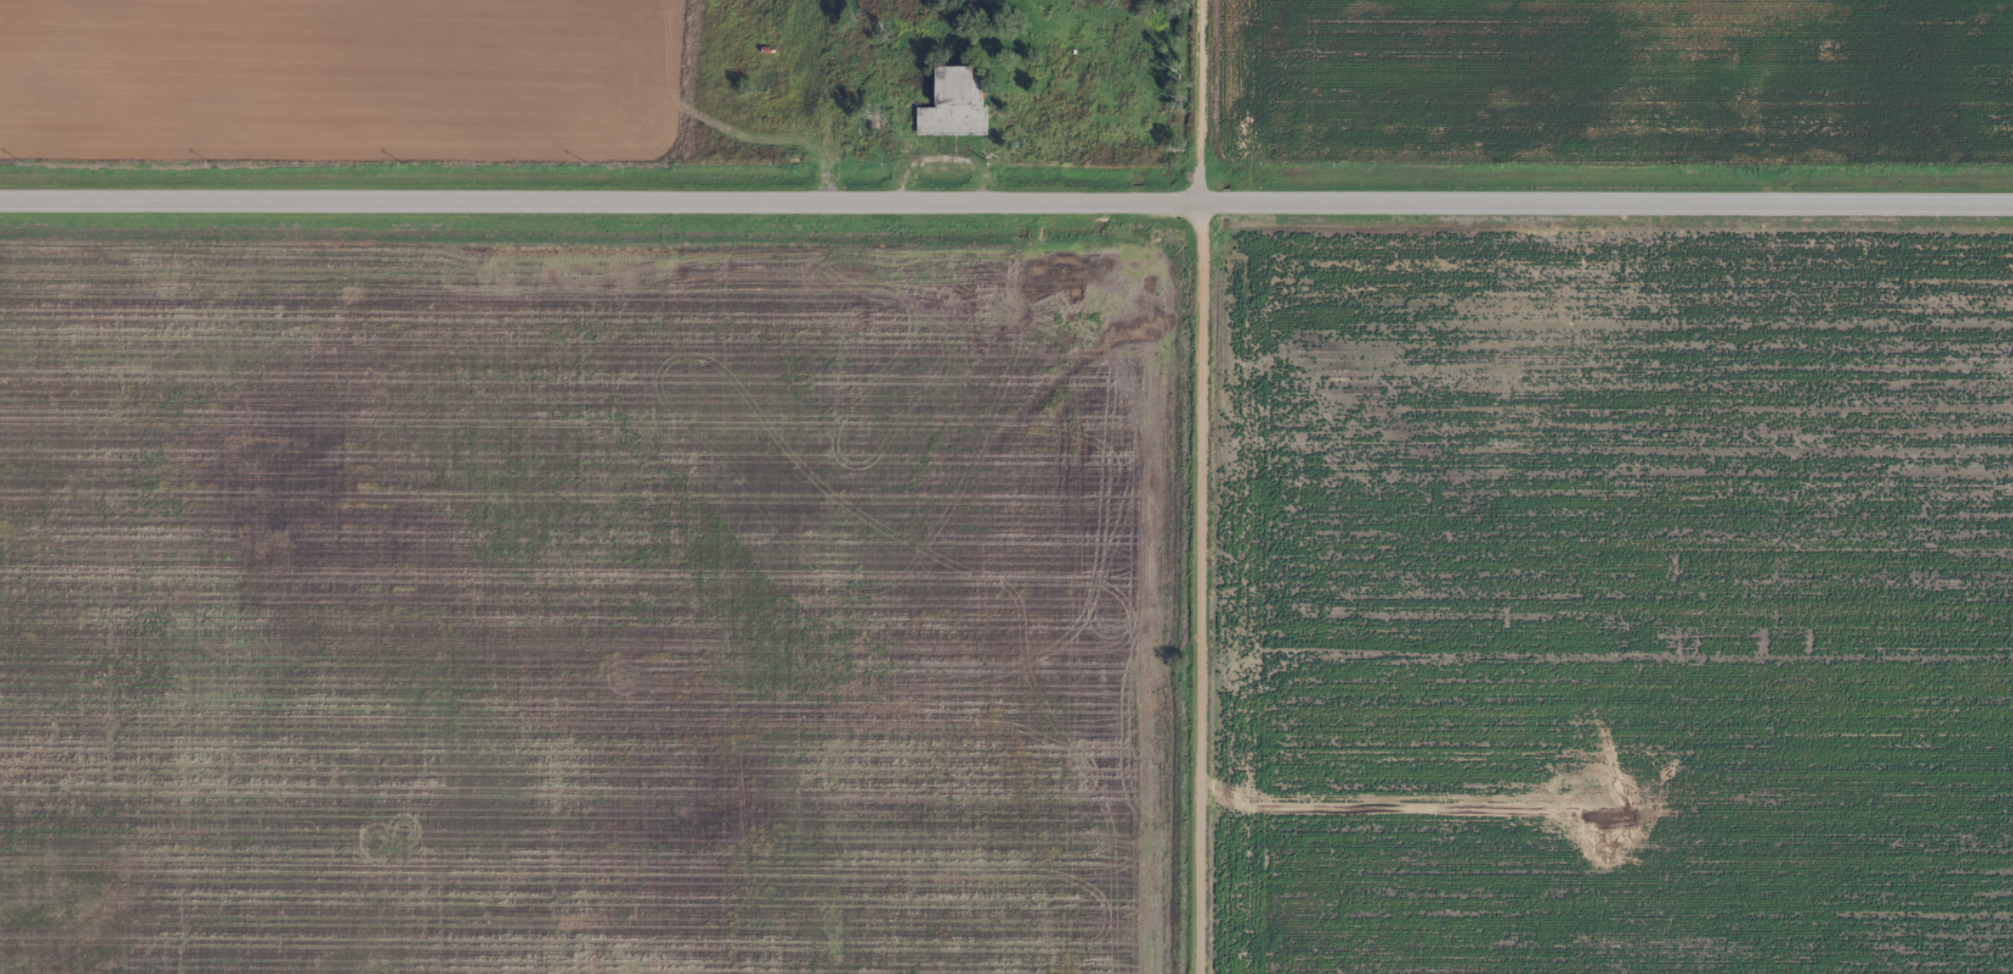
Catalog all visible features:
building: (774, 85)
building: (953, 86)
road: (600, 206)
road: (1607, 207)
road: (1200, 486)

